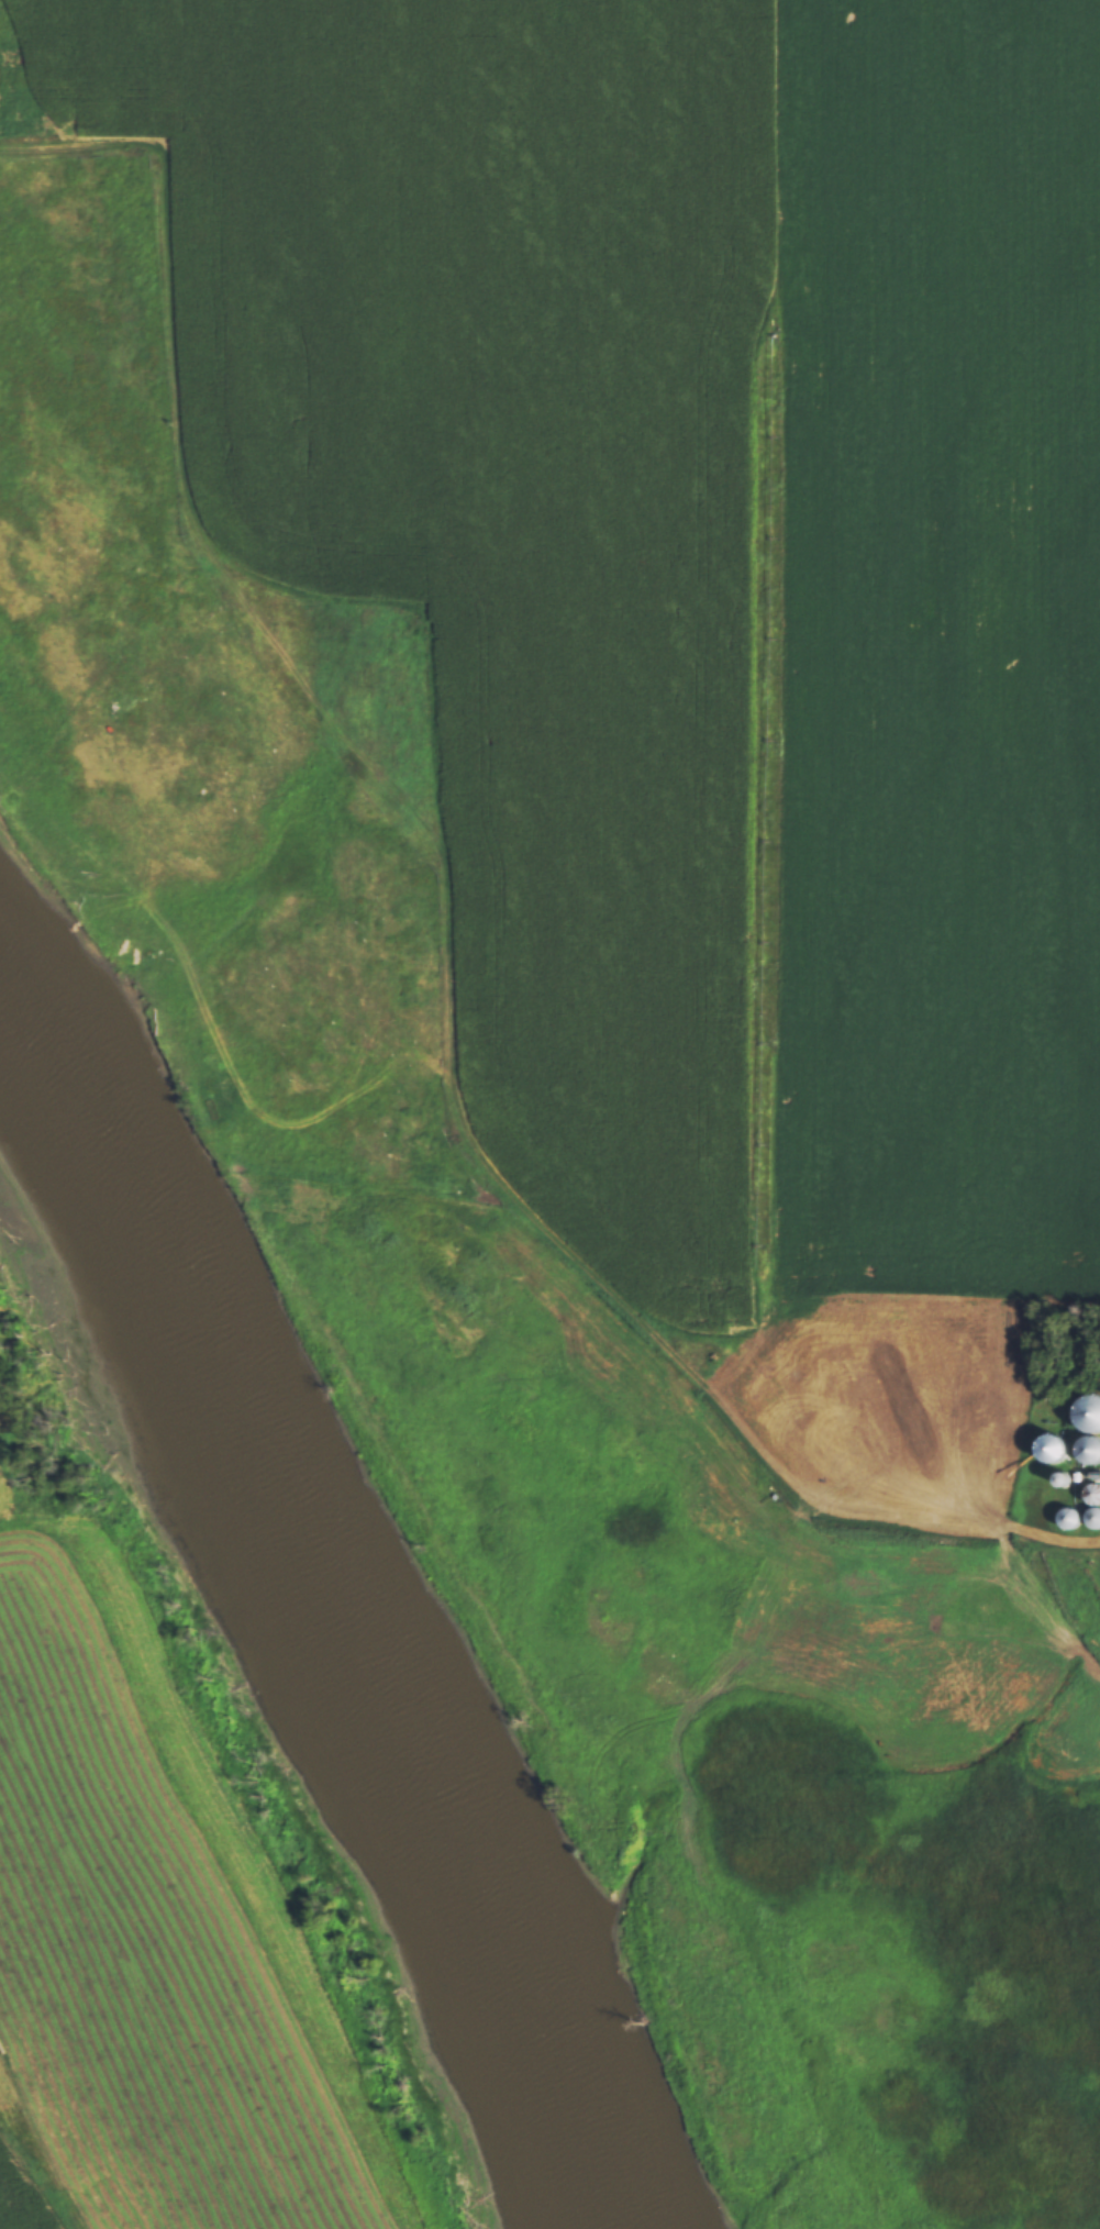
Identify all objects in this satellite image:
building: (1092, 1450)
building: (1095, 1493)
building: (1070, 1519)
building: (1095, 1519)
river: (315, 1635)

